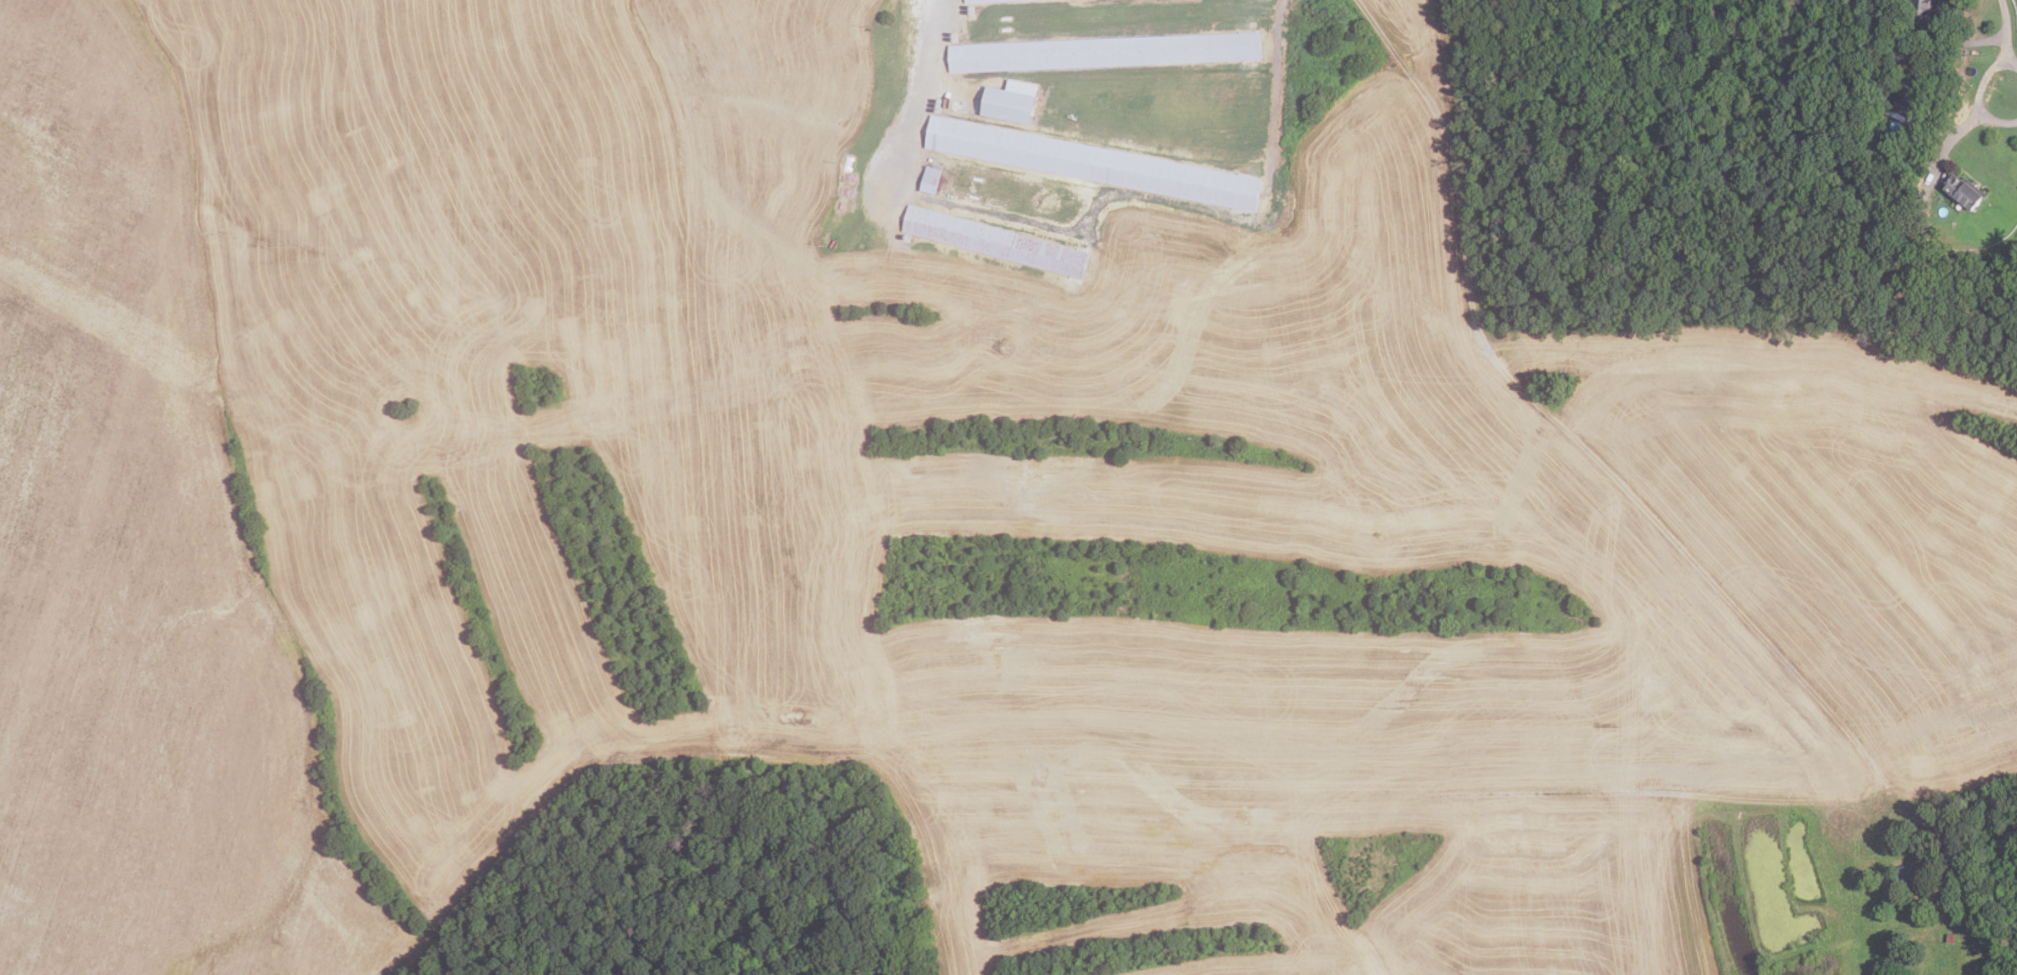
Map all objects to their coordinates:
building: (989, 1)
building: (1918, 11)
road: (2005, 31)
building: (1104, 52)
building: (1907, 89)
road: (1976, 93)
road: (916, 94)
building: (1008, 102)
building: (1856, 109)
road: (1445, 137)
building: (1865, 142)
building: (1888, 143)
crop: (101, 158)
building: (1093, 164)
building: (930, 180)
building: (1962, 191)
crop: (521, 194)
building: (993, 242)
building: (1949, 858)
building: (1904, 872)
building: (1951, 938)

